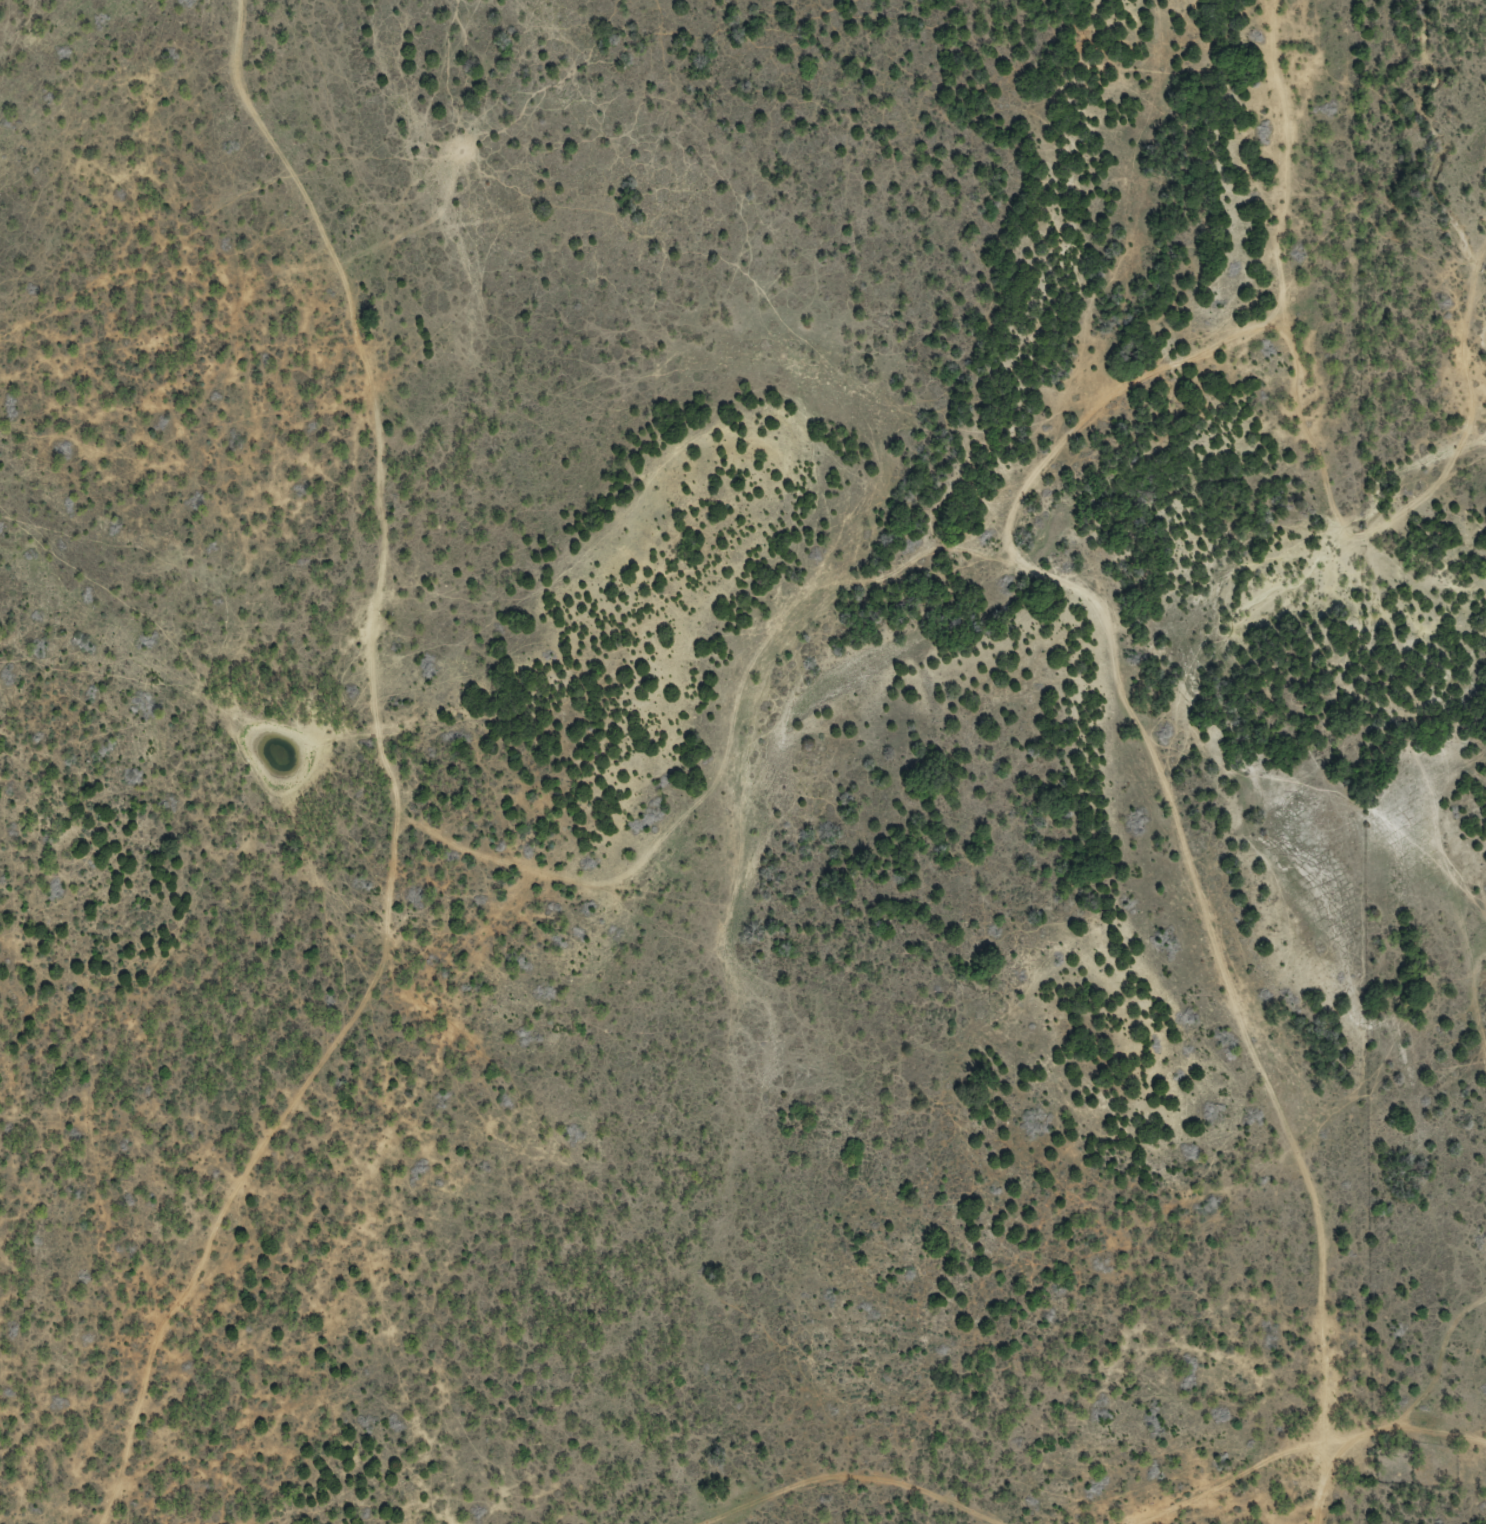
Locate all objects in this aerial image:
road: (1232, 1508)
road: (840, 1520)

